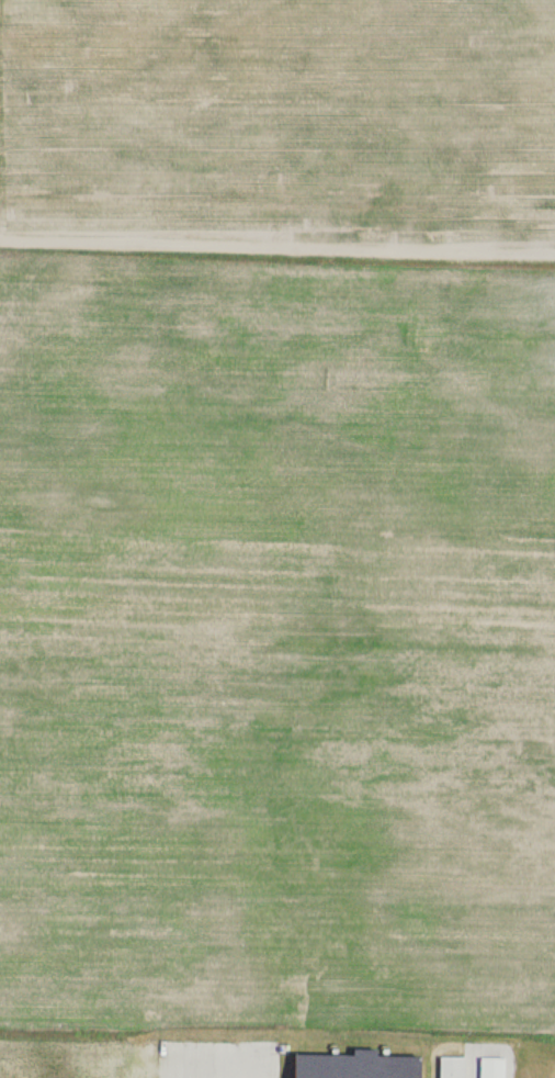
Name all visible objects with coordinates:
building: (352, 1060)
building: (446, 1063)
building: (487, 1063)

